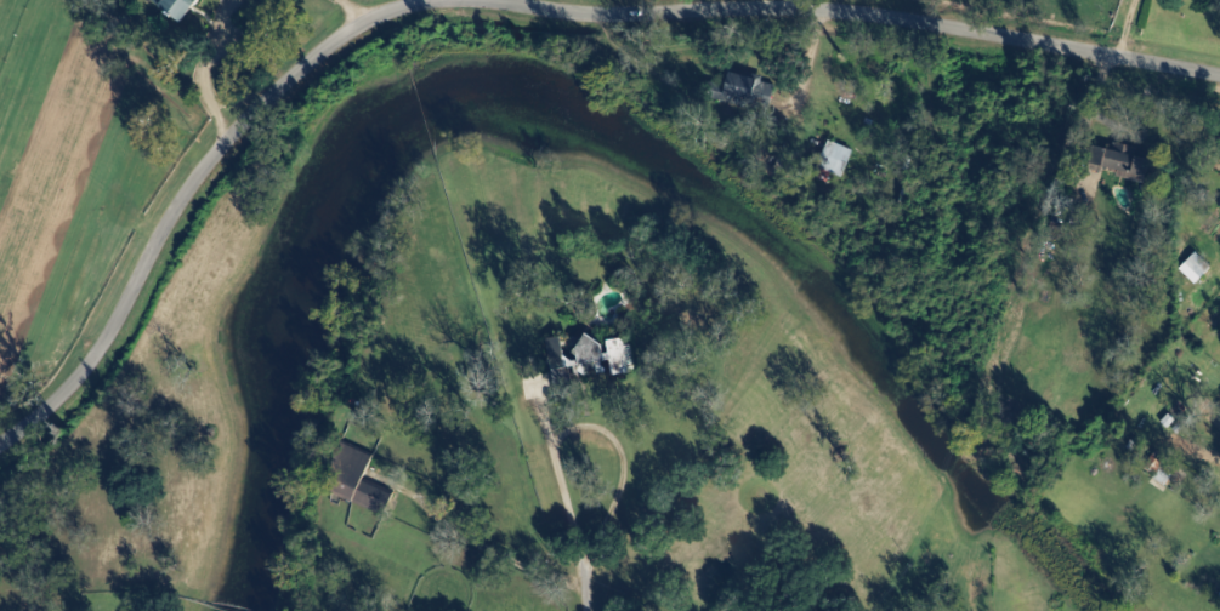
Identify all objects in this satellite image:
road: (794, 4)
road: (507, 5)
building: (178, 7)
road: (357, 8)
road: (808, 56)
building: (751, 91)
building: (838, 159)
building: (1124, 160)
building: (1197, 269)
building: (361, 480)
road: (586, 518)
road: (492, 554)

